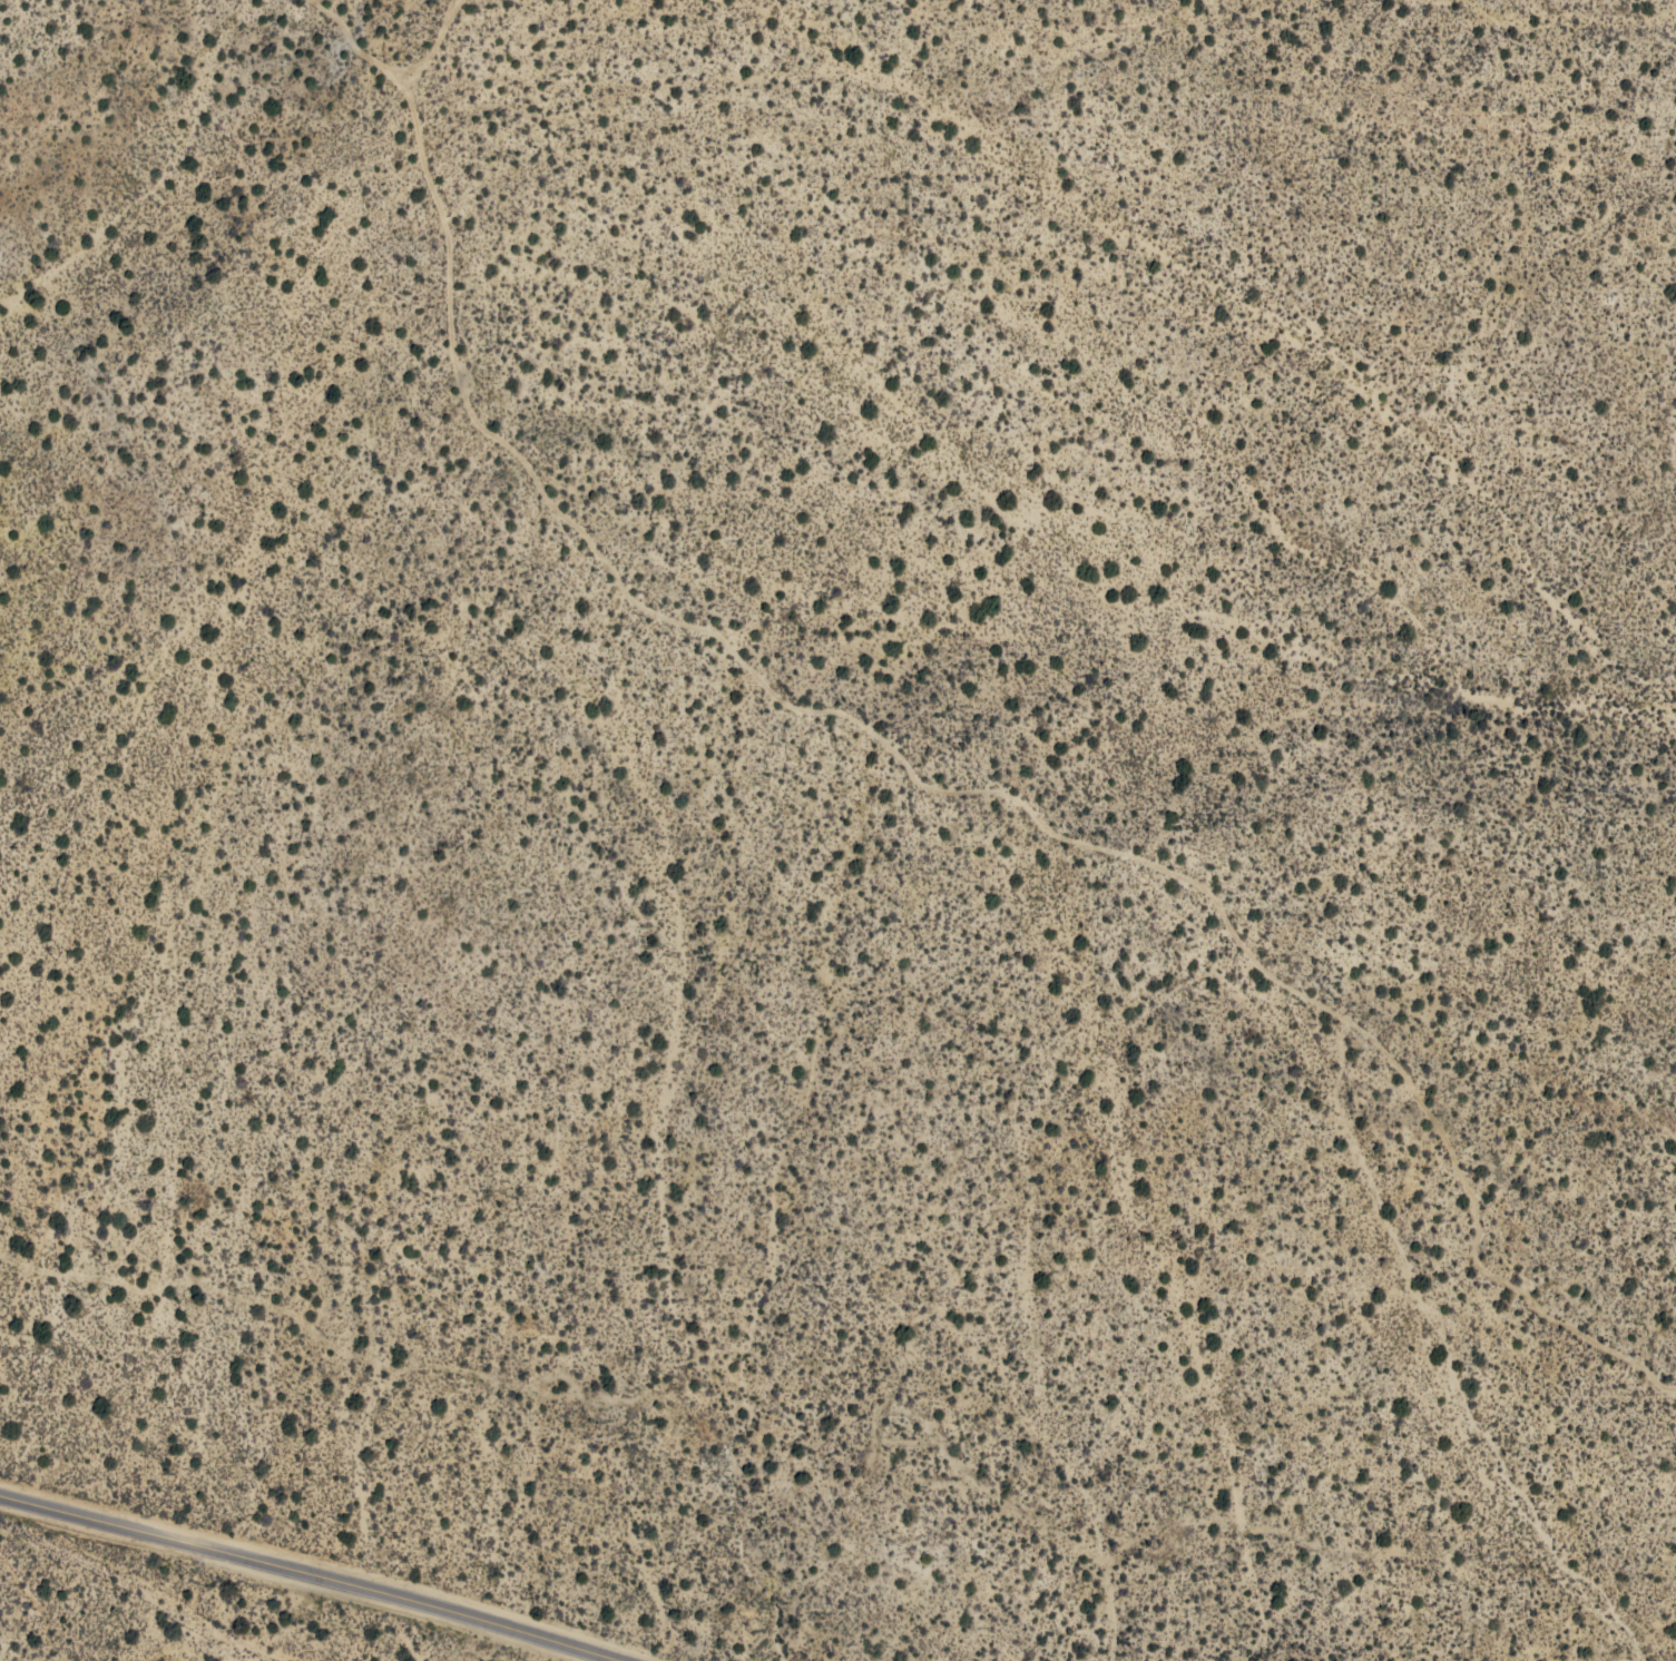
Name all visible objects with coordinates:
road: (312, 1575)

